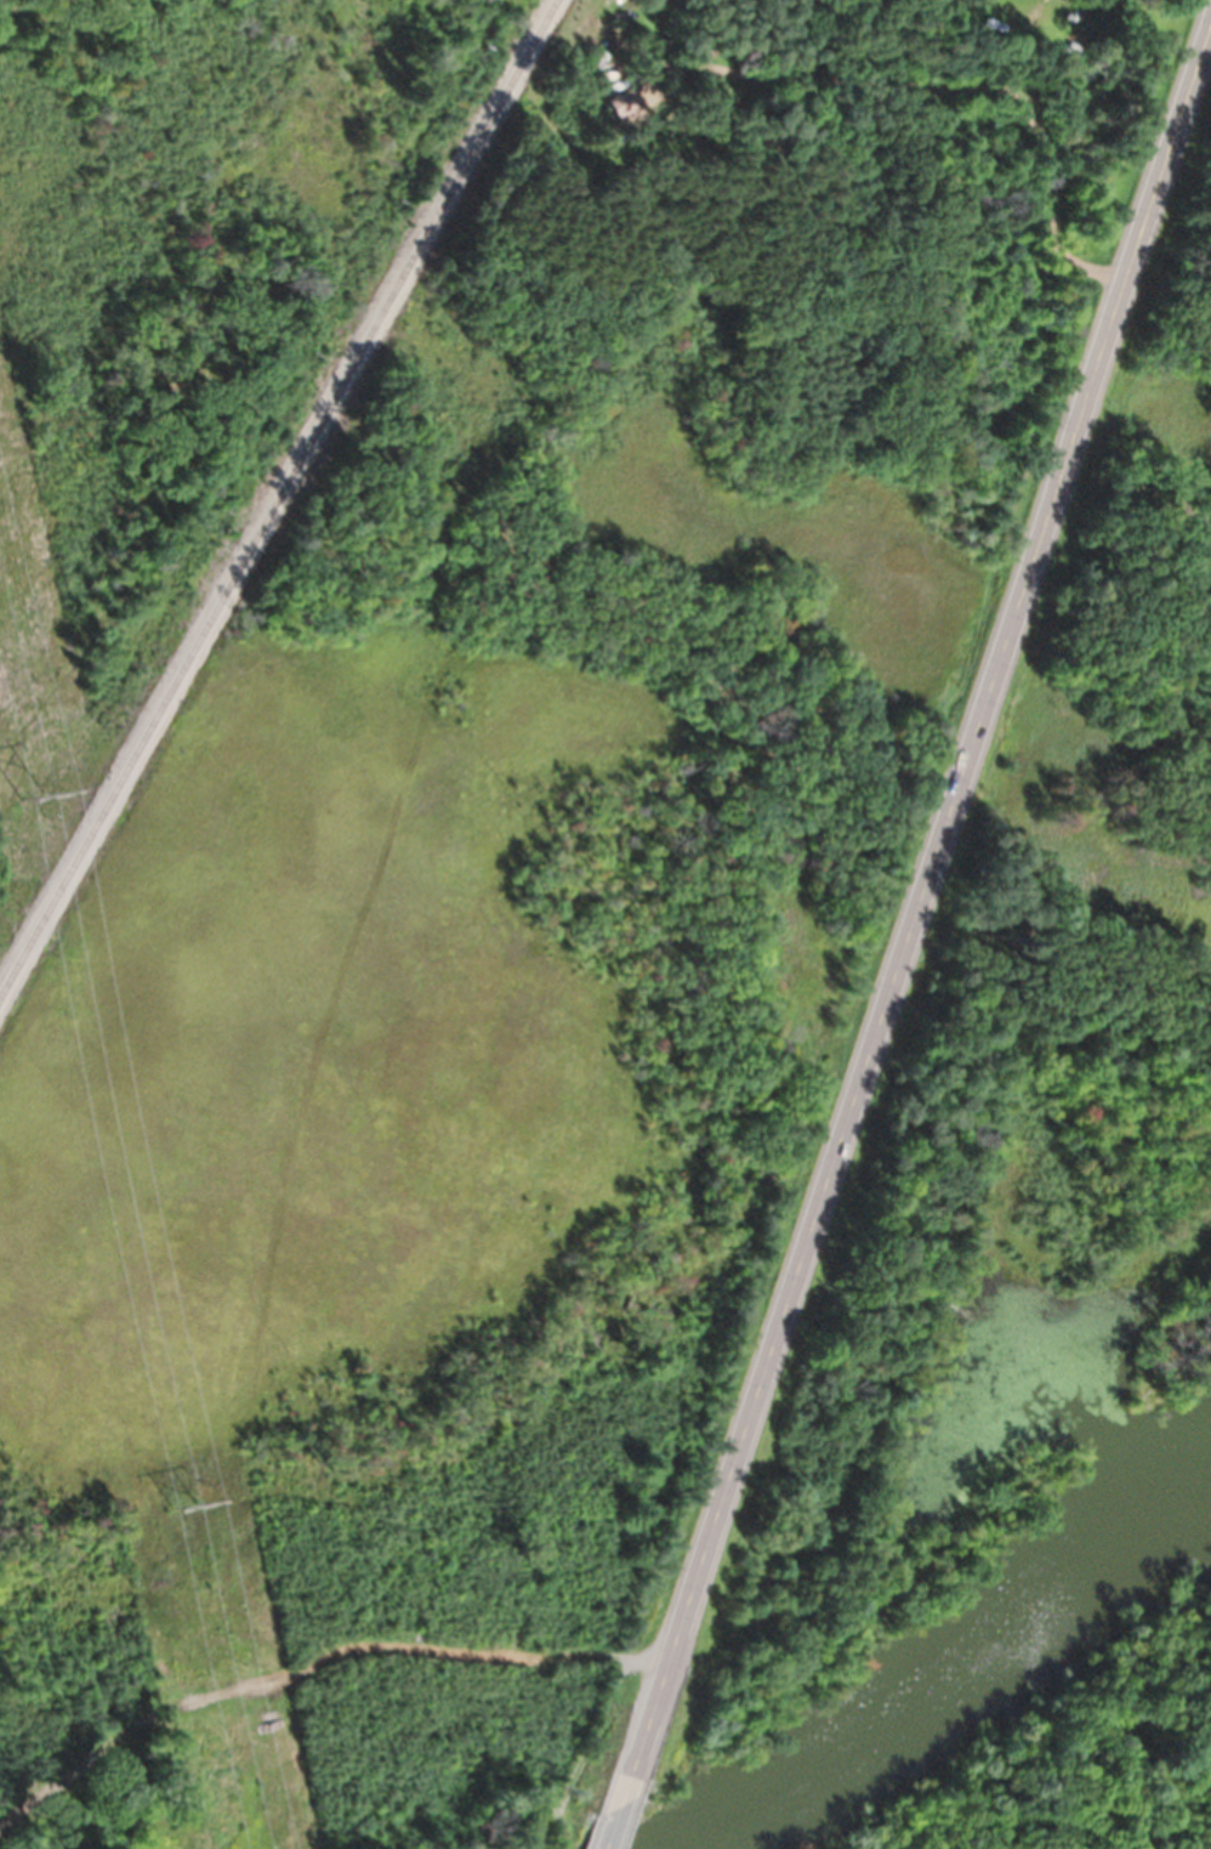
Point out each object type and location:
railway: (278, 498)
power tower: (29, 794)
road: (914, 913)
power tower: (183, 1507)
river: (970, 1662)
road: (610, 1826)

